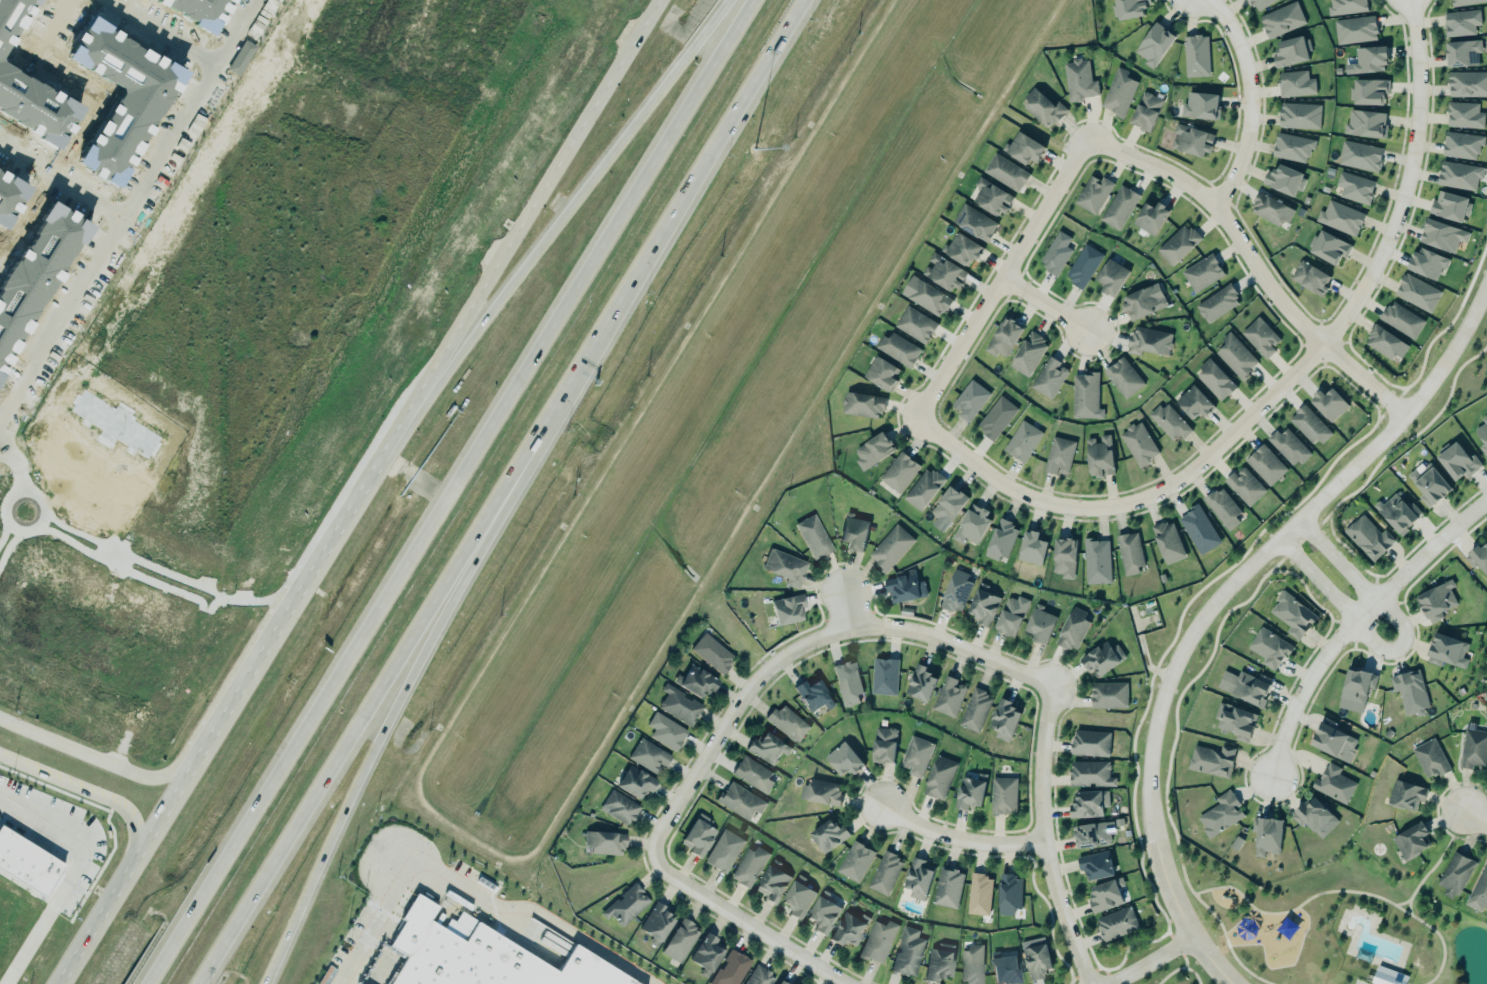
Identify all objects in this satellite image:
building: (1465, 2)
building: (1259, 3)
building: (1345, 6)
building: (1129, 8)
building: (1280, 19)
building: (1459, 22)
building: (1353, 28)
road: (163, 32)
building: (1153, 44)
building: (1290, 52)
building: (1461, 52)
building: (1196, 56)
building: (1369, 60)
building: (1077, 79)
building: (1294, 83)
building: (1467, 84)
building: (1368, 91)
building: (1119, 93)
road: (1248, 98)
building: (1201, 106)
building: (1041, 108)
building: (1146, 112)
building: (1298, 115)
building: (1464, 116)
building: (1364, 123)
building: (1192, 141)
building: (115, 142)
building: (1460, 144)
building: (1023, 147)
building: (1292, 148)
building: (1358, 155)
building: (1006, 173)
building: (1458, 174)
road: (61, 179)
building: (1284, 181)
road: (1405, 182)
building: (1353, 187)
building: (1093, 194)
road: (538, 195)
road: (575, 197)
building: (991, 197)
building: (1448, 206)
building: (1118, 207)
building: (1271, 210)
building: (1339, 217)
road: (121, 218)
building: (1151, 218)
building: (973, 222)
building: (1442, 236)
building: (1177, 244)
building: (1327, 247)
building: (962, 250)
building: (1057, 253)
building: (1426, 262)
road: (1254, 263)
building: (1083, 267)
building: (944, 273)
building: (1202, 273)
road: (1001, 276)
building: (1111, 276)
building: (1310, 278)
building: (1416, 292)
building: (924, 295)
building: (1142, 303)
road: (1047, 304)
building: (1217, 304)
road: (614, 309)
building: (1400, 319)
building: (915, 324)
building: (1259, 336)
building: (1002, 337)
building: (1147, 341)
building: (1383, 342)
building: (897, 348)
building: (1027, 353)
building: (1236, 357)
building: (880, 373)
building: (1047, 377)
building: (1123, 378)
building: (1215, 380)
building: (1085, 397)
building: (969, 399)
building: (1193, 402)
building: (1330, 404)
building: (862, 405)
building: (995, 417)
building: (1169, 423)
building: (1309, 425)
building: (1482, 435)
building: (1021, 440)
road: (0, 441)
building: (1138, 444)
building: (1288, 446)
building: (872, 451)
building: (1059, 456)
building: (1098, 456)
building: (1459, 459)
road: (15, 465)
building: (1265, 465)
building: (898, 471)
building: (1429, 484)
building: (1245, 486)
building: (922, 488)
road: (447, 492)
road: (9, 497)
road: (1132, 500)
building: (947, 505)
building: (1223, 508)
building: (1397, 512)
road: (40, 519)
building: (970, 525)
building: (1199, 530)
building: (854, 533)
building: (812, 535)
road: (15, 536)
building: (1367, 537)
building: (1001, 540)
building: (1168, 543)
building: (890, 548)
building: (1032, 549)
building: (1129, 553)
building: (1477, 555)
road: (113, 556)
building: (1064, 558)
building: (1096, 561)
road: (126, 566)
building: (783, 566)
road: (1339, 581)
road: (305, 586)
building: (905, 587)
building: (954, 591)
road: (258, 600)
building: (1435, 600)
road: (1216, 601)
building: (981, 607)
building: (788, 608)
road: (843, 612)
building: (1293, 615)
building: (1009, 616)
road: (1350, 616)
building: (1038, 624)
building: (1071, 629)
building: (1268, 646)
road: (803, 647)
building: (1446, 651)
building: (708, 655)
building: (1101, 658)
building: (880, 678)
building: (917, 684)
building: (695, 685)
building: (844, 685)
building: (1244, 687)
building: (1354, 689)
building: (1409, 691)
building: (807, 695)
building: (1107, 695)
building: (944, 698)
building: (674, 706)
building: (970, 712)
building: (1003, 720)
building: (1233, 721)
building: (783, 724)
road: (77, 725)
building: (659, 732)
building: (1089, 741)
building: (1334, 742)
building: (761, 748)
building: (881, 749)
building: (1473, 749)
road: (116, 754)
road: (90, 756)
building: (644, 758)
building: (911, 758)
building: (1429, 758)
building: (1210, 760)
building: (839, 762)
building: (1089, 774)
building: (750, 776)
building: (934, 780)
building: (1332, 783)
building: (632, 786)
road: (82, 788)
building: (815, 793)
building: (967, 793)
building: (1404, 795)
building: (998, 800)
road: (309, 801)
road: (343, 802)
building: (1087, 803)
building: (737, 805)
building: (614, 809)
building: (1220, 815)
building: (1313, 816)
road: (1475, 820)
building: (1094, 830)
building: (826, 836)
building: (1267, 836)
road: (1039, 840)
building: (693, 841)
building: (1409, 841)
road: (957, 843)
building: (601, 844)
building: (720, 854)
road: (1436, 858)
building: (851, 864)
building: (27, 865)
building: (1095, 865)
building: (745, 868)
building: (880, 874)
building: (1455, 875)
road: (73, 877)
building: (914, 879)
road: (121, 881)
building: (768, 888)
building: (944, 890)
building: (1479, 891)
road: (1336, 892)
building: (1106, 895)
building: (974, 896)
building: (1005, 897)
building: (793, 902)
road: (1397, 904)
building: (616, 907)
road: (1405, 909)
road: (527, 914)
building: (818, 916)
road: (1210, 917)
road: (368, 923)
building: (1116, 923)
road: (745, 924)
building: (654, 927)
building: (845, 933)
building: (677, 942)
building: (873, 943)
parking lot: (361, 950)
building: (903, 953)
building: (704, 955)
building: (478, 958)
building: (1033, 961)
road: (1150, 962)
building: (936, 965)
building: (967, 965)
road: (1177, 969)
building: (727, 971)
building: (1001, 972)
building: (755, 977)
building: (1388, 977)
building: (777, 983)
parking lot: (1353, 983)

